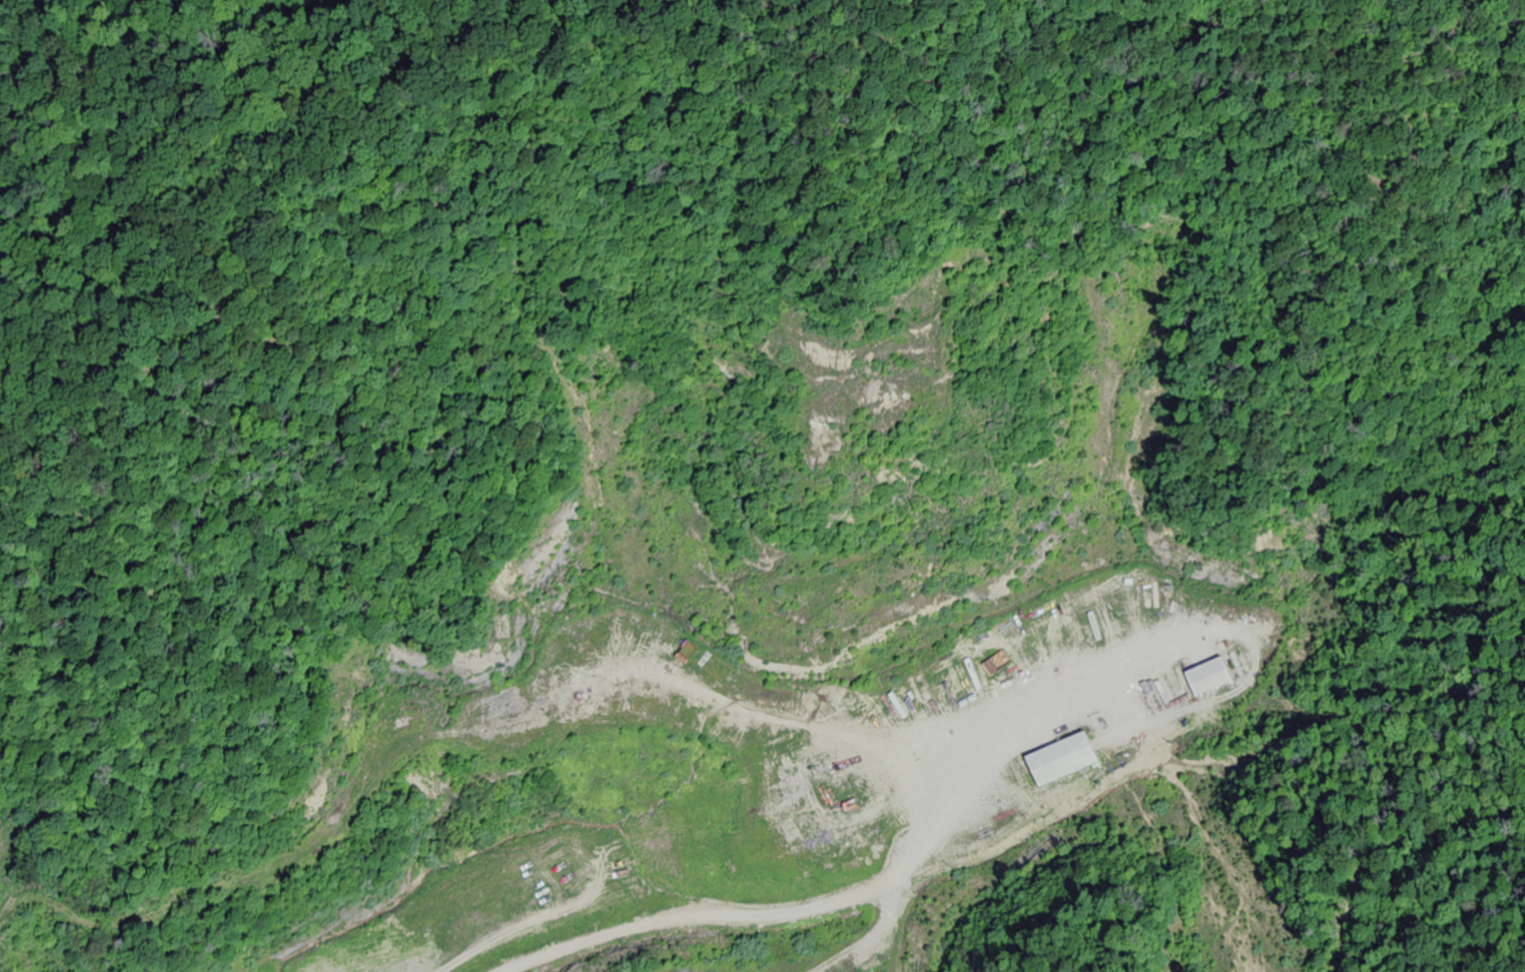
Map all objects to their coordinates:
building: (1070, 614)
building: (1215, 677)
building: (518, 703)
building: (1068, 760)

